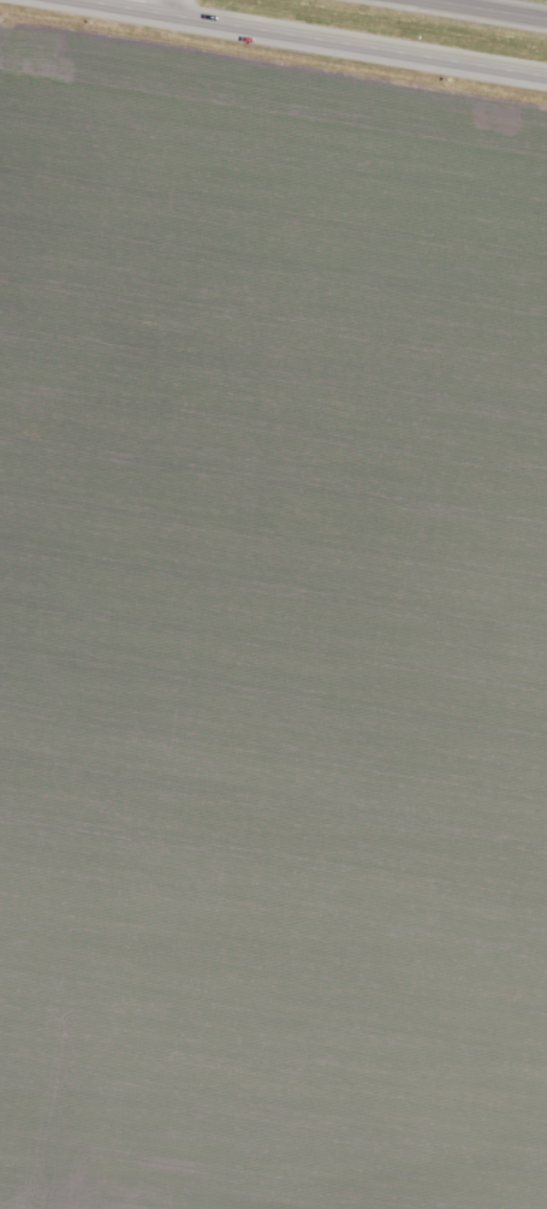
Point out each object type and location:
road: (168, 6)
road: (492, 8)
road: (316, 37)
crop: (269, 635)

